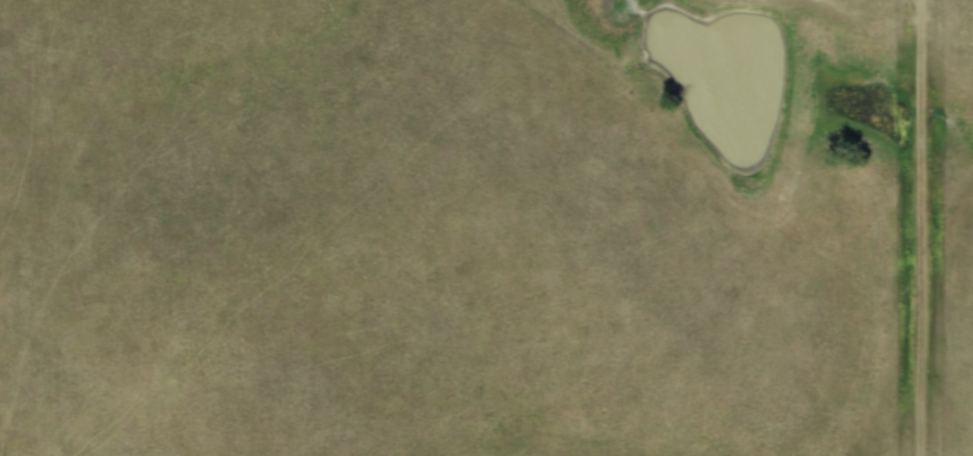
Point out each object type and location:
road: (921, 228)

